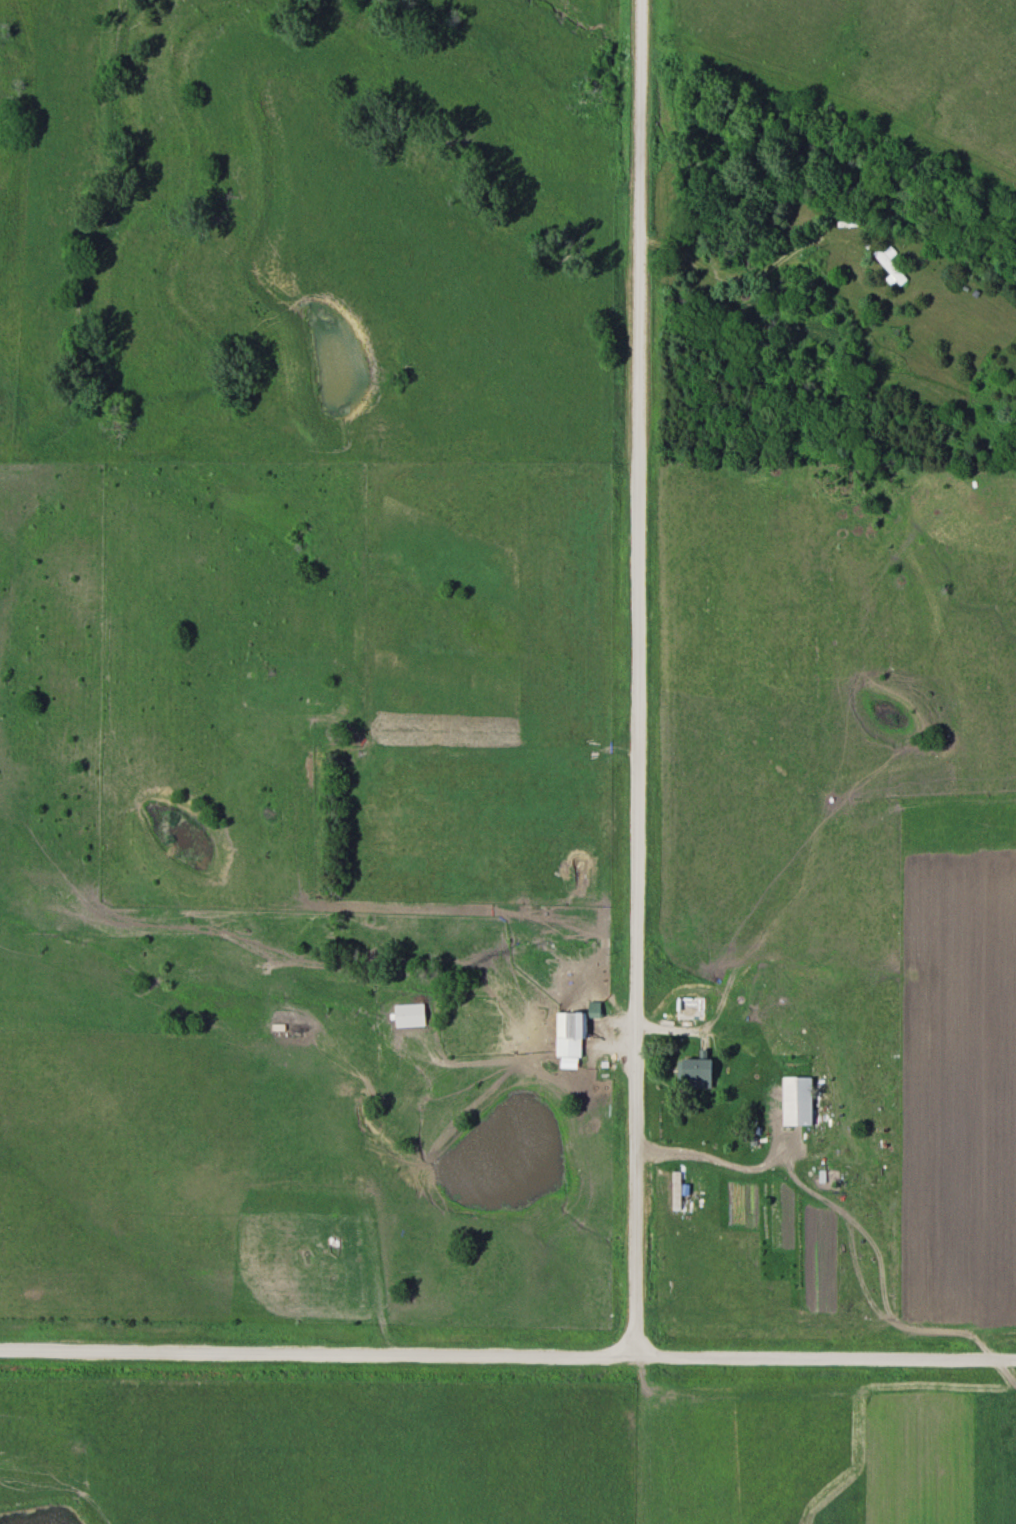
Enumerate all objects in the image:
building: (886, 265)
road: (740, 279)
road: (637, 679)
building: (590, 1009)
building: (567, 1034)
building: (689, 1069)
building: (794, 1101)
building: (673, 1190)
road: (507, 1358)

